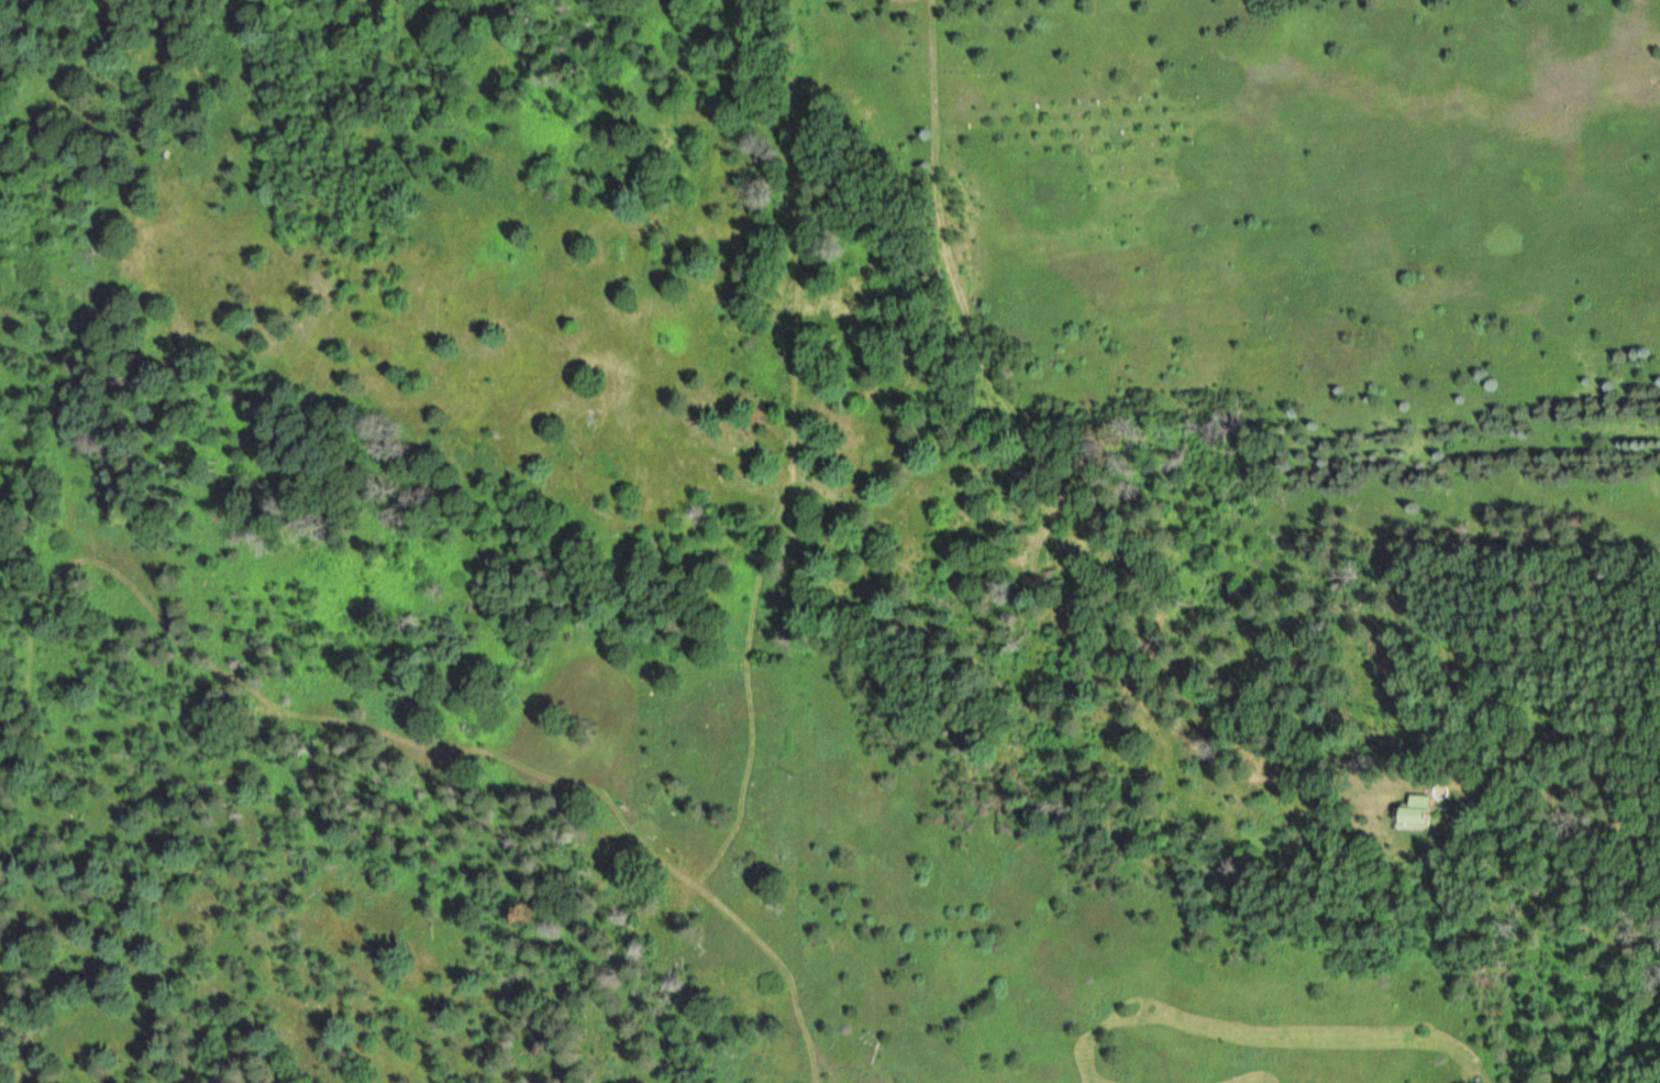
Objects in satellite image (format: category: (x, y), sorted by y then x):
road: (952, 278)
building: (1414, 813)

